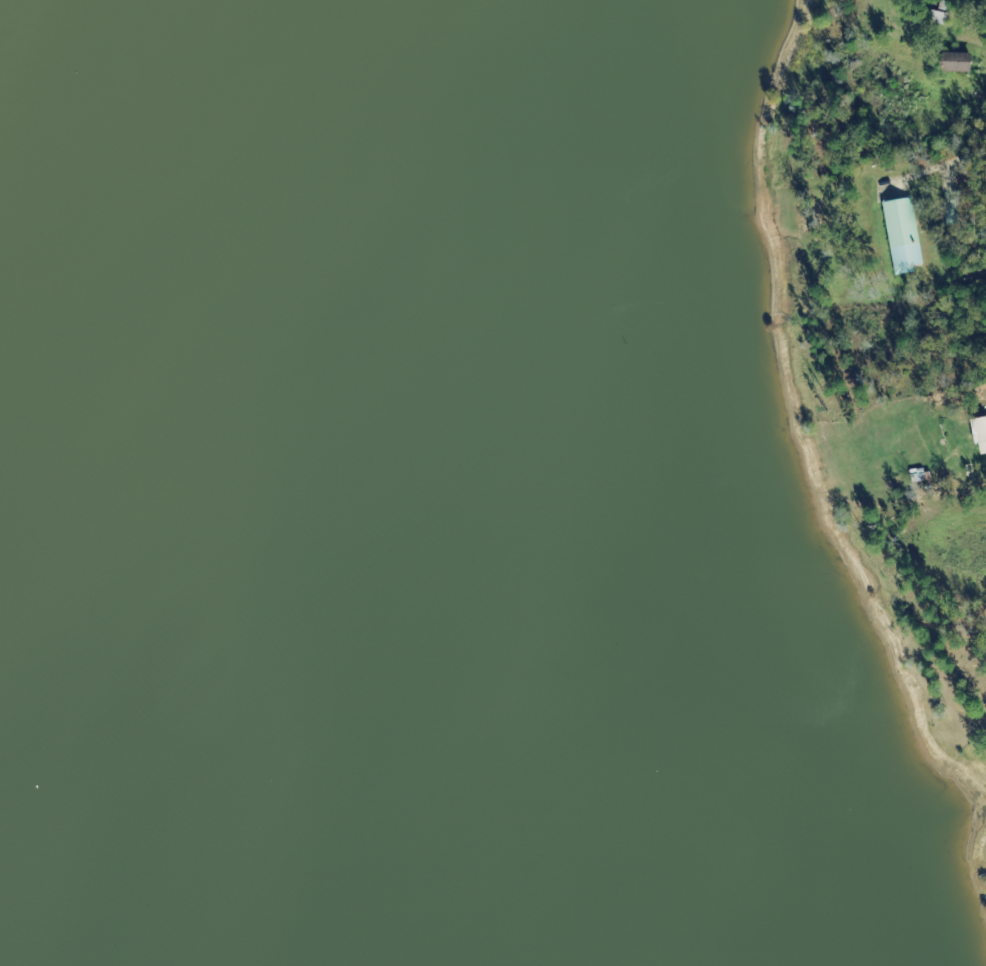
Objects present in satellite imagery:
building: (953, 62)
building: (902, 236)
building: (978, 436)

